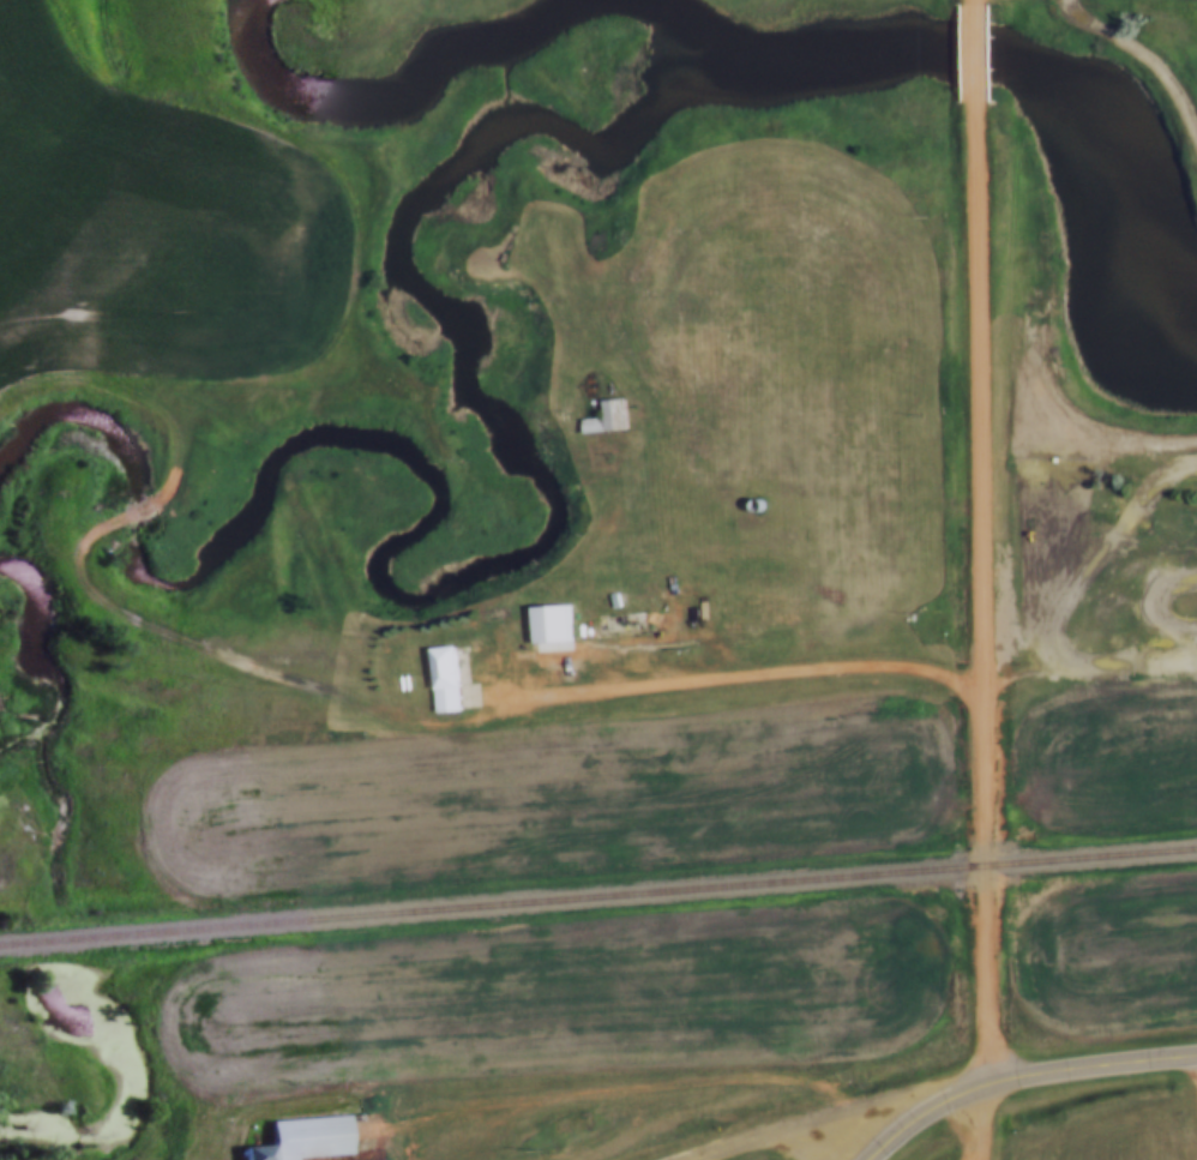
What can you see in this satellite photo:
road: (980, 2)
road: (1143, 16)
road: (980, 53)
road: (347, 297)
building: (603, 420)
building: (753, 510)
silo: (753, 510)
road: (610, 551)
road: (103, 597)
building: (609, 601)
building: (620, 621)
building: (545, 627)
road: (984, 630)
road: (627, 663)
building: (440, 680)
railway: (1091, 857)
railway: (493, 906)
road: (1091, 1068)
road: (626, 1092)
road: (837, 1116)
road: (924, 1116)
building: (305, 1137)
building: (253, 1153)
road: (984, 1155)

